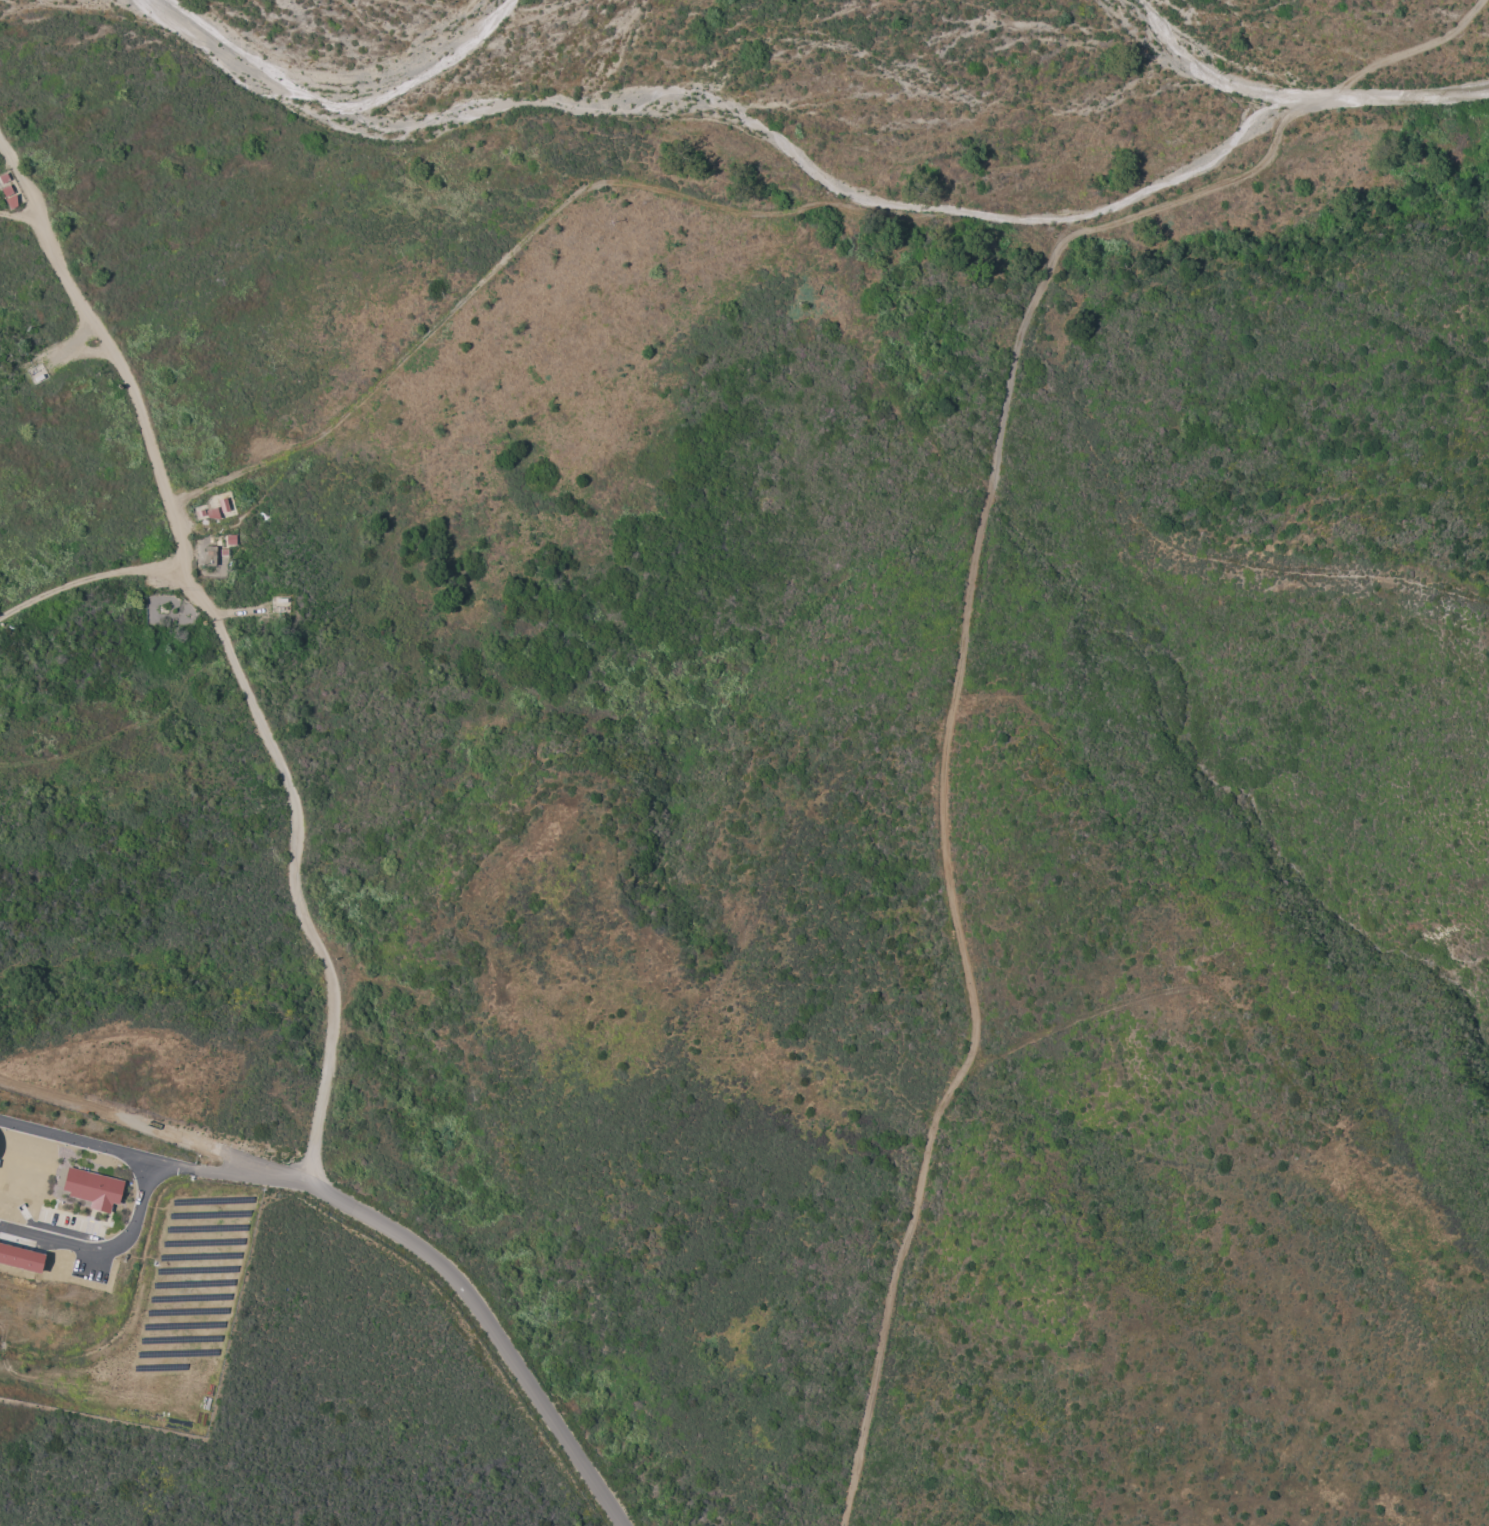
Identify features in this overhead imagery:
road: (331, 94)
road: (783, 211)
road: (18, 213)
road: (89, 576)
road: (128, 735)
road: (293, 867)
road: (76, 1138)
road: (228, 1172)
building: (92, 1188)
road: (105, 1249)
building: (20, 1257)

